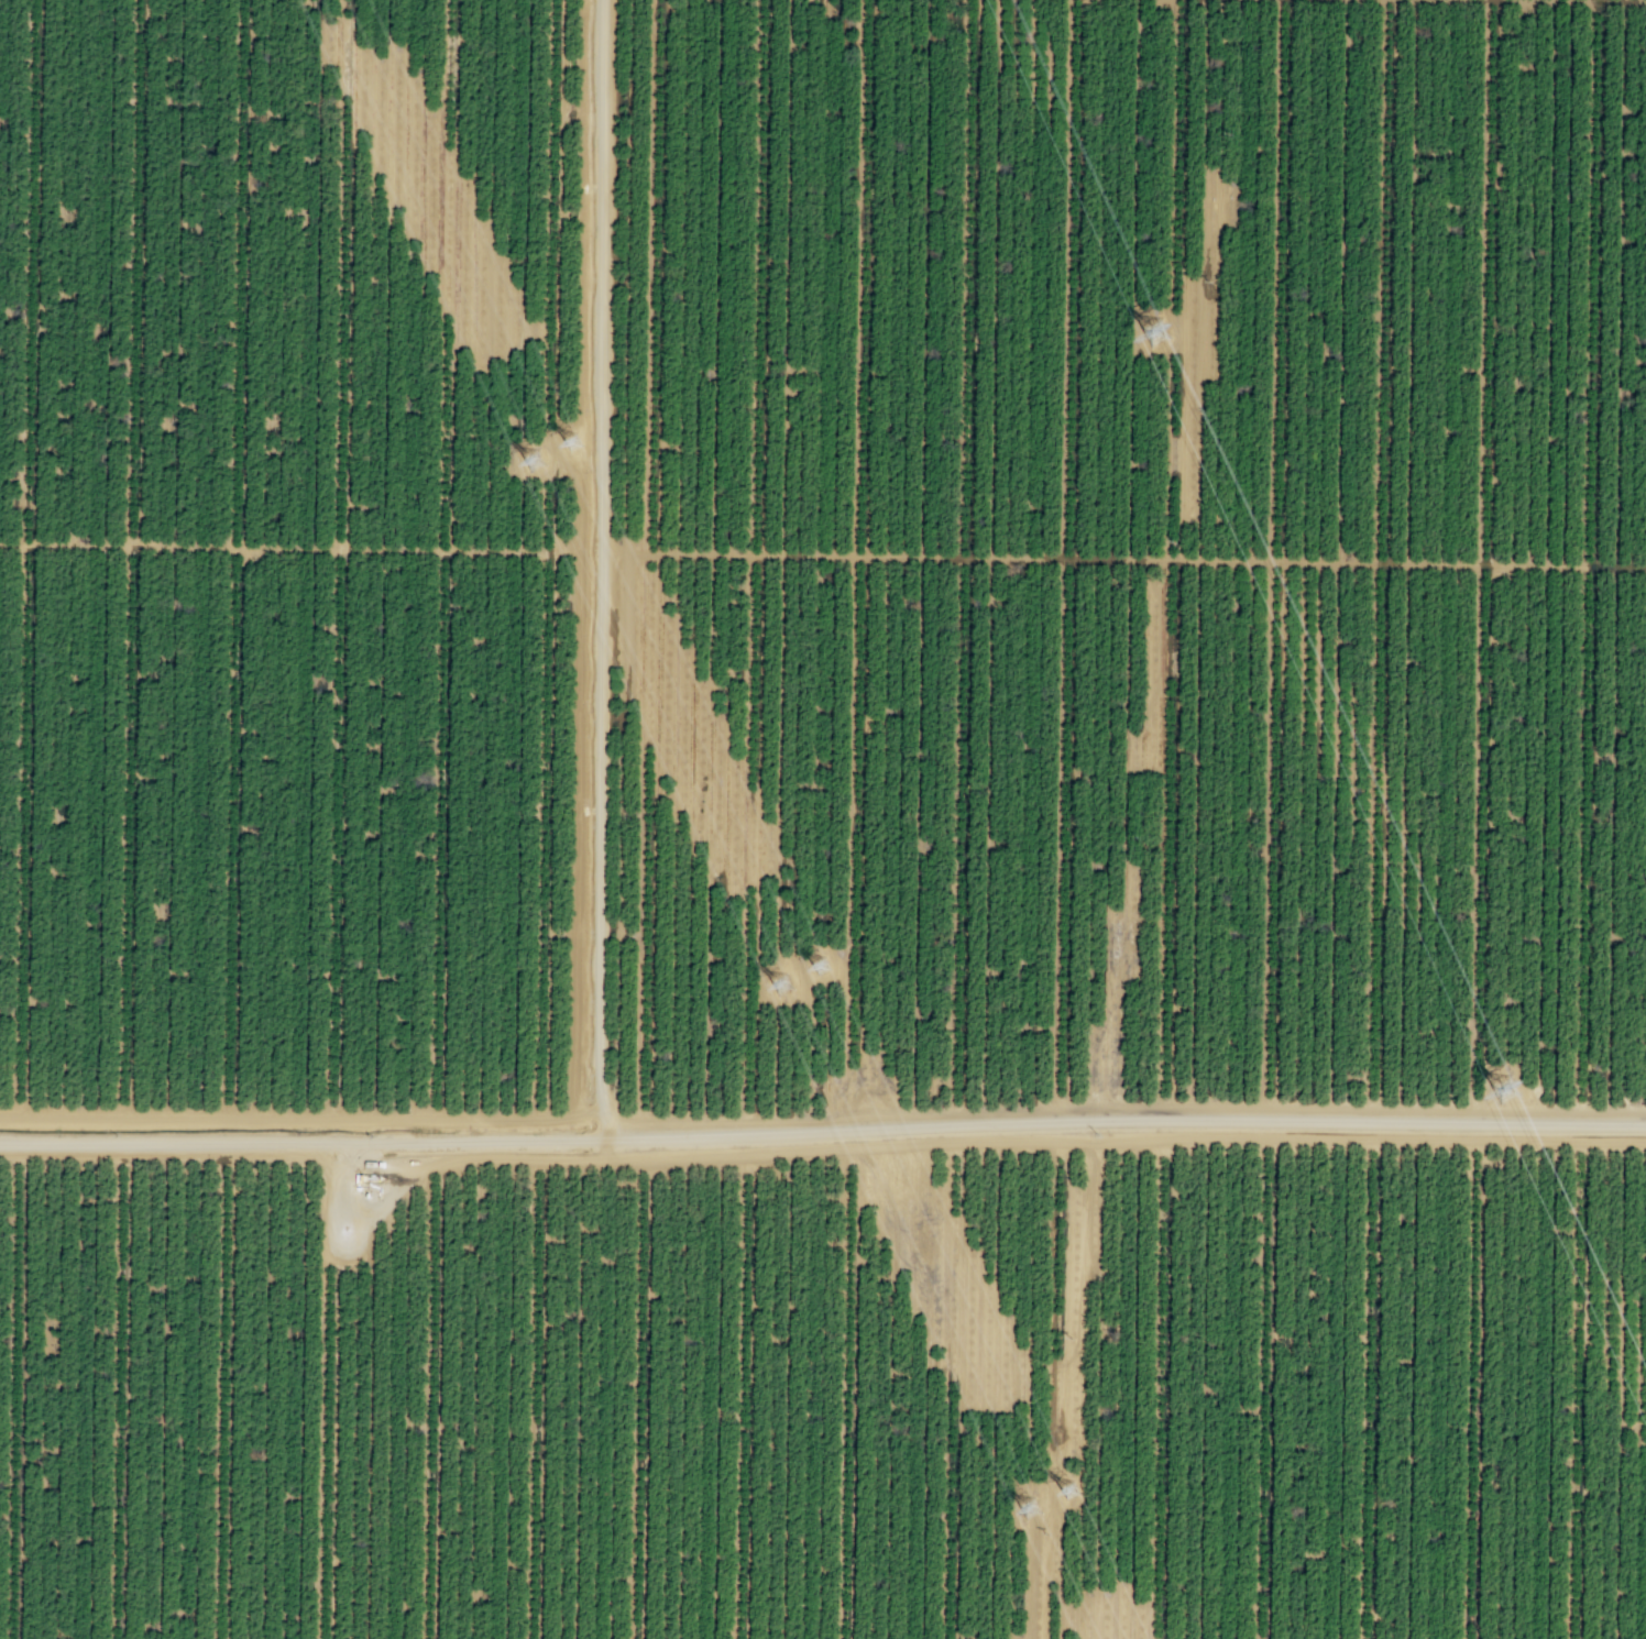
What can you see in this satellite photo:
road: (1625, 0)
road: (1184, 280)
power tower: (1162, 332)
power tower: (572, 443)
power tower: (533, 460)
road: (556, 499)
road: (289, 548)
road: (29, 558)
road: (238, 558)
road: (343, 558)
road: (136, 559)
road: (449, 559)
road: (1121, 560)
road: (1594, 562)
road: (580, 563)
road: (596, 569)
power tower: (817, 966)
power tower: (779, 986)
power tower: (1523, 1092)
road: (548, 1108)
road: (823, 1130)
road: (1271, 1380)
road: (1375, 1380)
road: (1478, 1382)
road: (1582, 1382)
power tower: (1067, 1492)
power tower: (1028, 1511)

